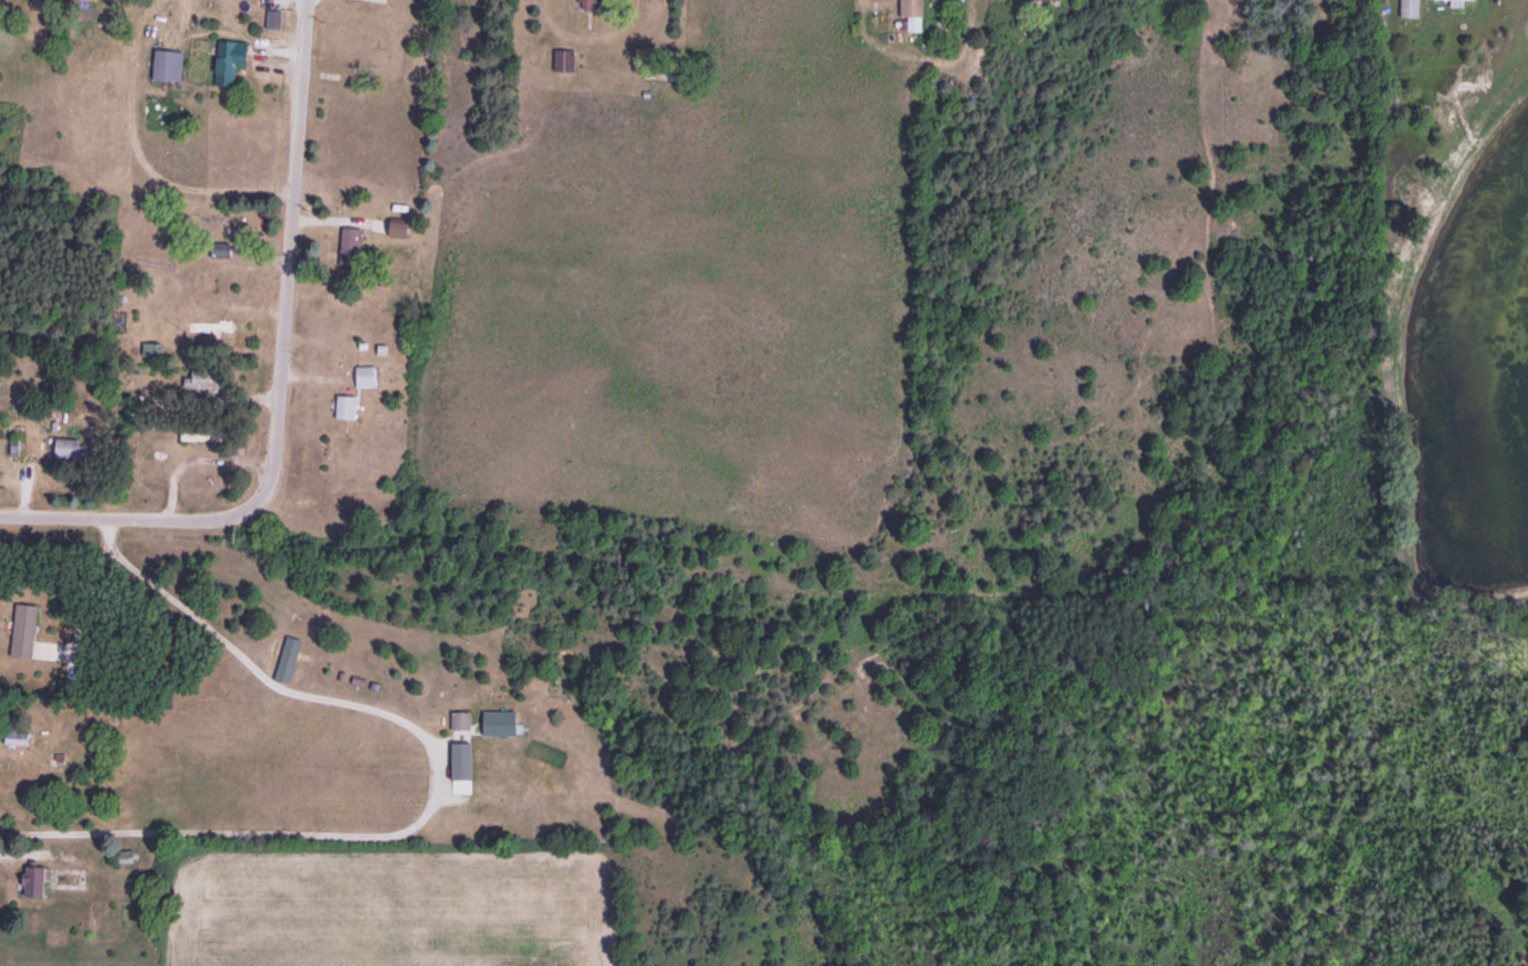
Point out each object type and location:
building: (1458, 2)
building: (589, 4)
building: (1409, 7)
building: (1213, 11)
building: (913, 13)
building: (273, 18)
building: (565, 58)
building: (231, 59)
building: (168, 65)
building: (664, 72)
building: (400, 228)
building: (228, 241)
building: (352, 243)
road: (289, 257)
building: (209, 327)
building: (366, 377)
building: (207, 380)
building: (350, 407)
building: (76, 448)
road: (126, 517)
building: (288, 660)
building: (462, 720)
building: (502, 723)
building: (18, 737)
building: (464, 761)
building: (36, 882)

